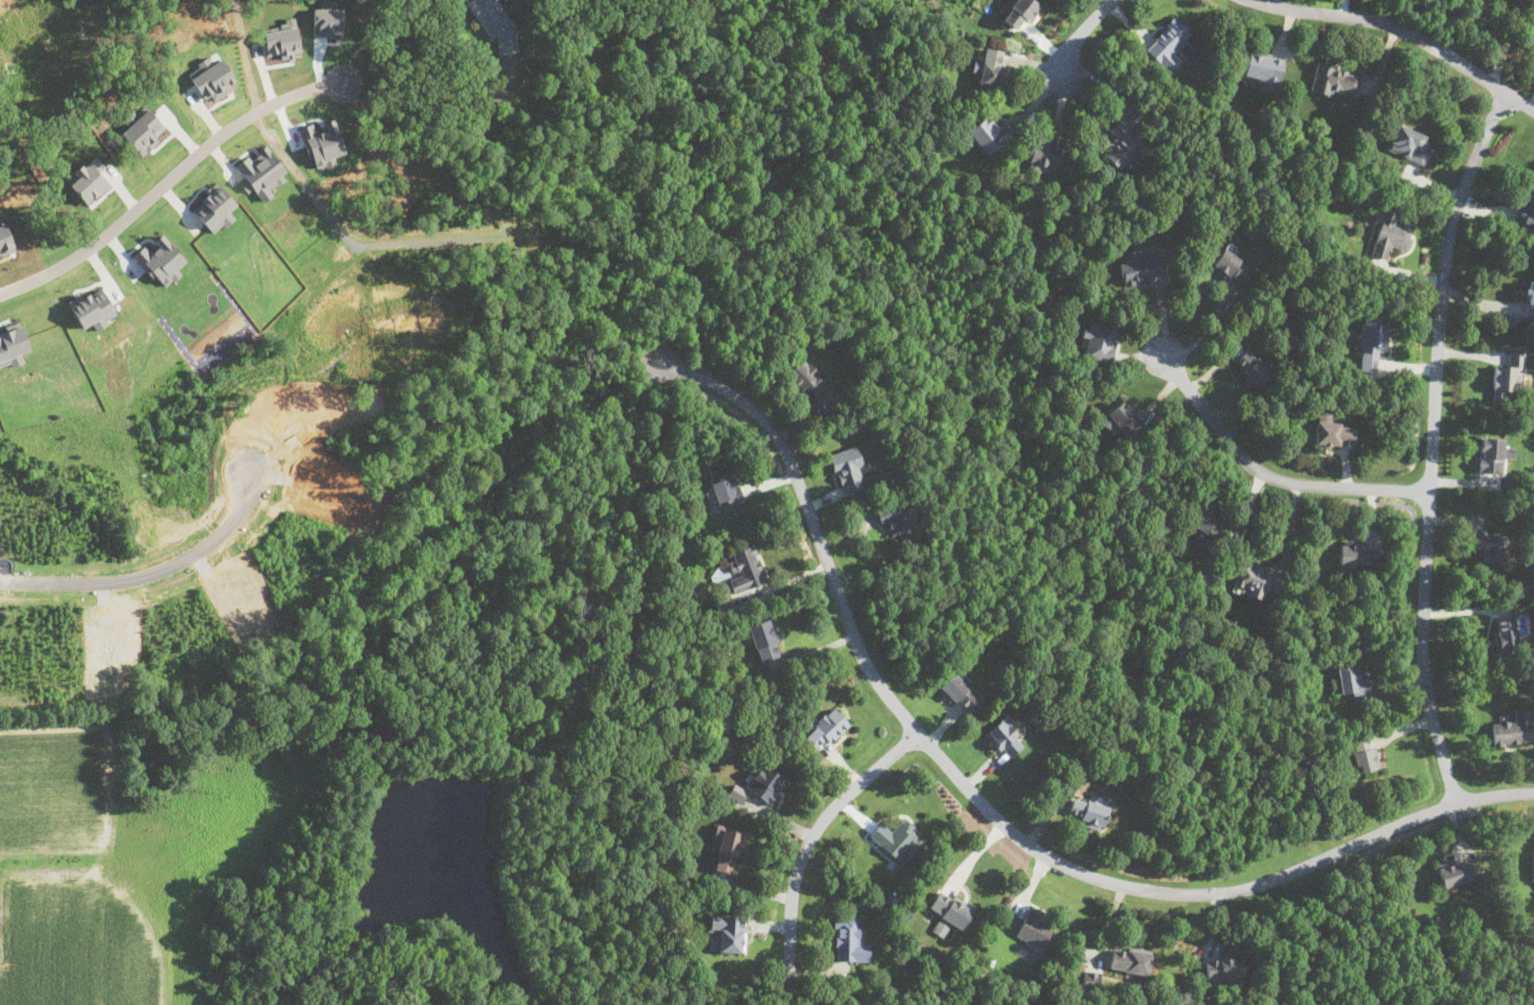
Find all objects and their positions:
road: (1274, 3)
building: (1021, 11)
building: (495, 23)
road: (1402, 28)
road: (1077, 35)
road: (1506, 42)
building: (1168, 43)
building: (990, 68)
building: (1264, 68)
building: (211, 78)
building: (1334, 79)
road: (427, 101)
building: (142, 128)
building: (988, 135)
building: (1407, 143)
building: (1124, 145)
building: (1046, 150)
building: (260, 173)
building: (88, 180)
road: (162, 184)
building: (1526, 205)
building: (215, 208)
building: (1391, 232)
building: (160, 261)
building: (1142, 263)
building: (1230, 265)
building: (1529, 299)
building: (92, 308)
road: (1207, 332)
building: (1372, 340)
building: (1098, 342)
building: (12, 346)
building: (1253, 368)
building: (1507, 374)
building: (807, 380)
building: (1123, 420)
building: (1332, 431)
road: (1433, 443)
building: (1492, 454)
building: (848, 472)
road: (1265, 472)
building: (725, 488)
building: (895, 517)
building: (1206, 522)
building: (1492, 546)
building: (1357, 553)
building: (745, 568)
road: (150, 572)
building: (1253, 577)
building: (724, 603)
building: (1506, 633)
building: (765, 639)
building: (1351, 680)
building: (958, 692)
building: (825, 727)
building: (1513, 727)
building: (1004, 737)
building: (1364, 753)
building: (765, 782)
building: (1087, 811)
road: (993, 813)
road: (813, 834)
building: (895, 839)
building: (727, 847)
building: (1532, 866)
building: (1455, 871)
building: (949, 912)
building: (1033, 927)
building: (727, 932)
building: (848, 940)
building: (1130, 961)
building: (1224, 972)
building: (1091, 979)

